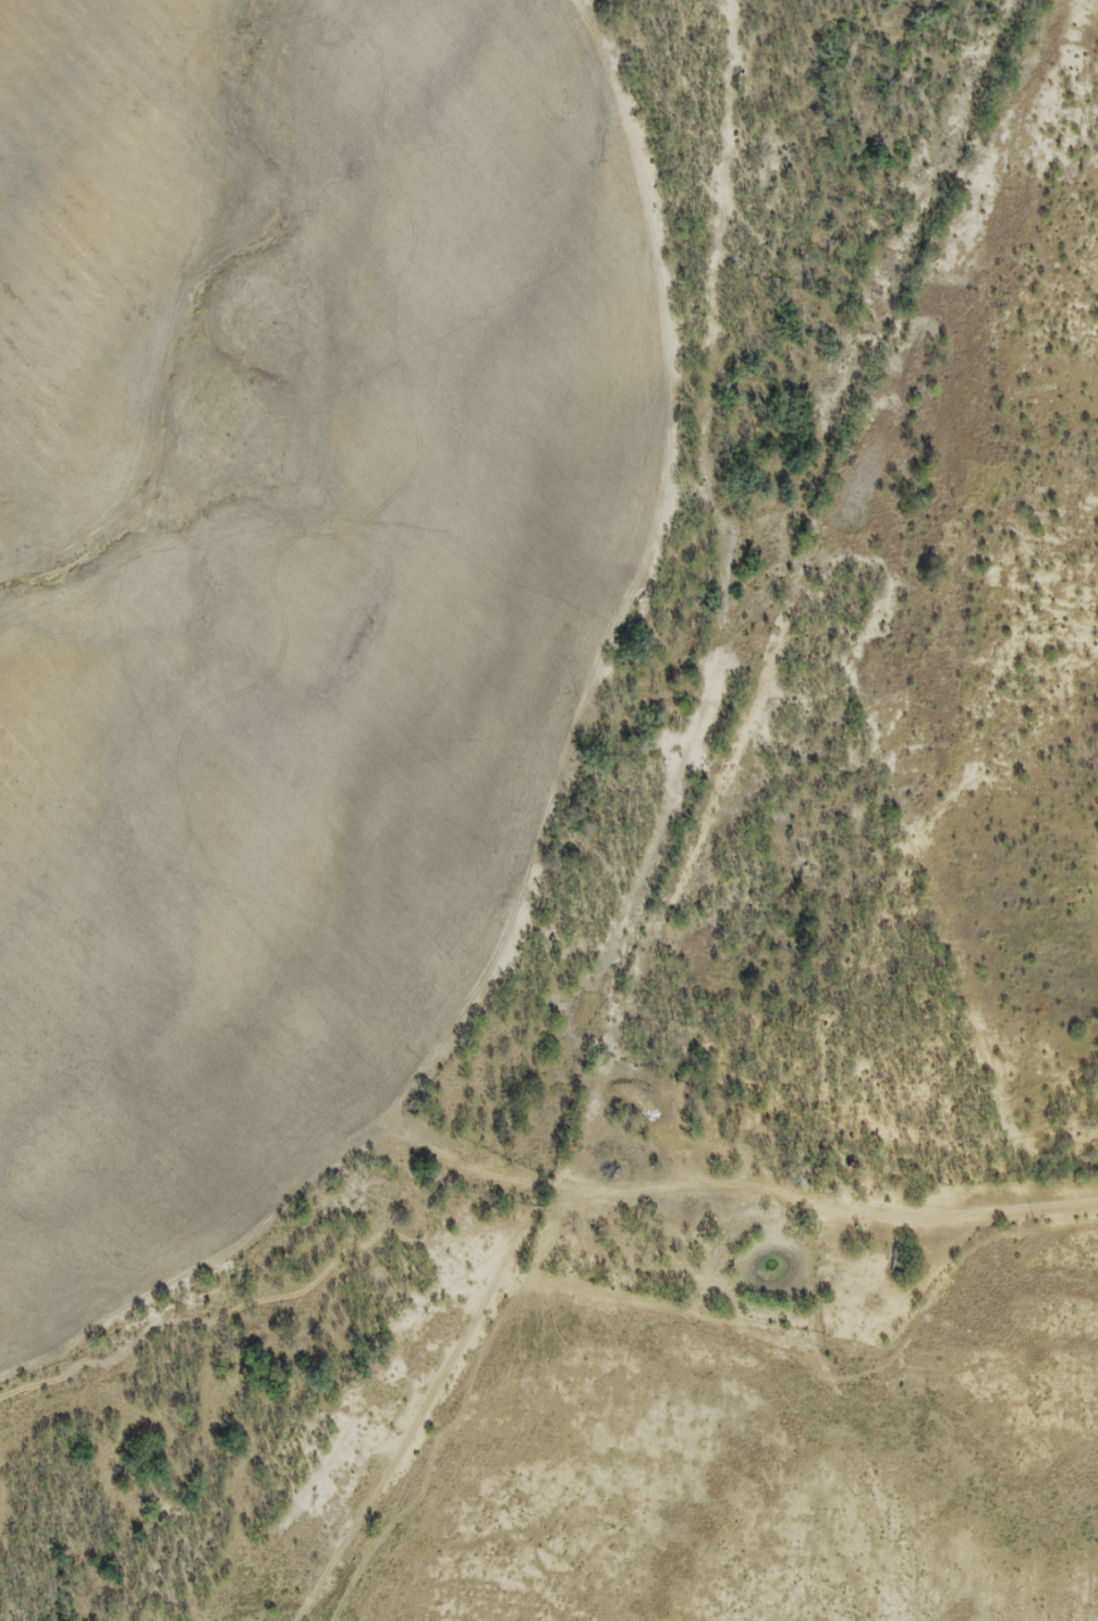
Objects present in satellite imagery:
road: (735, 1043)

